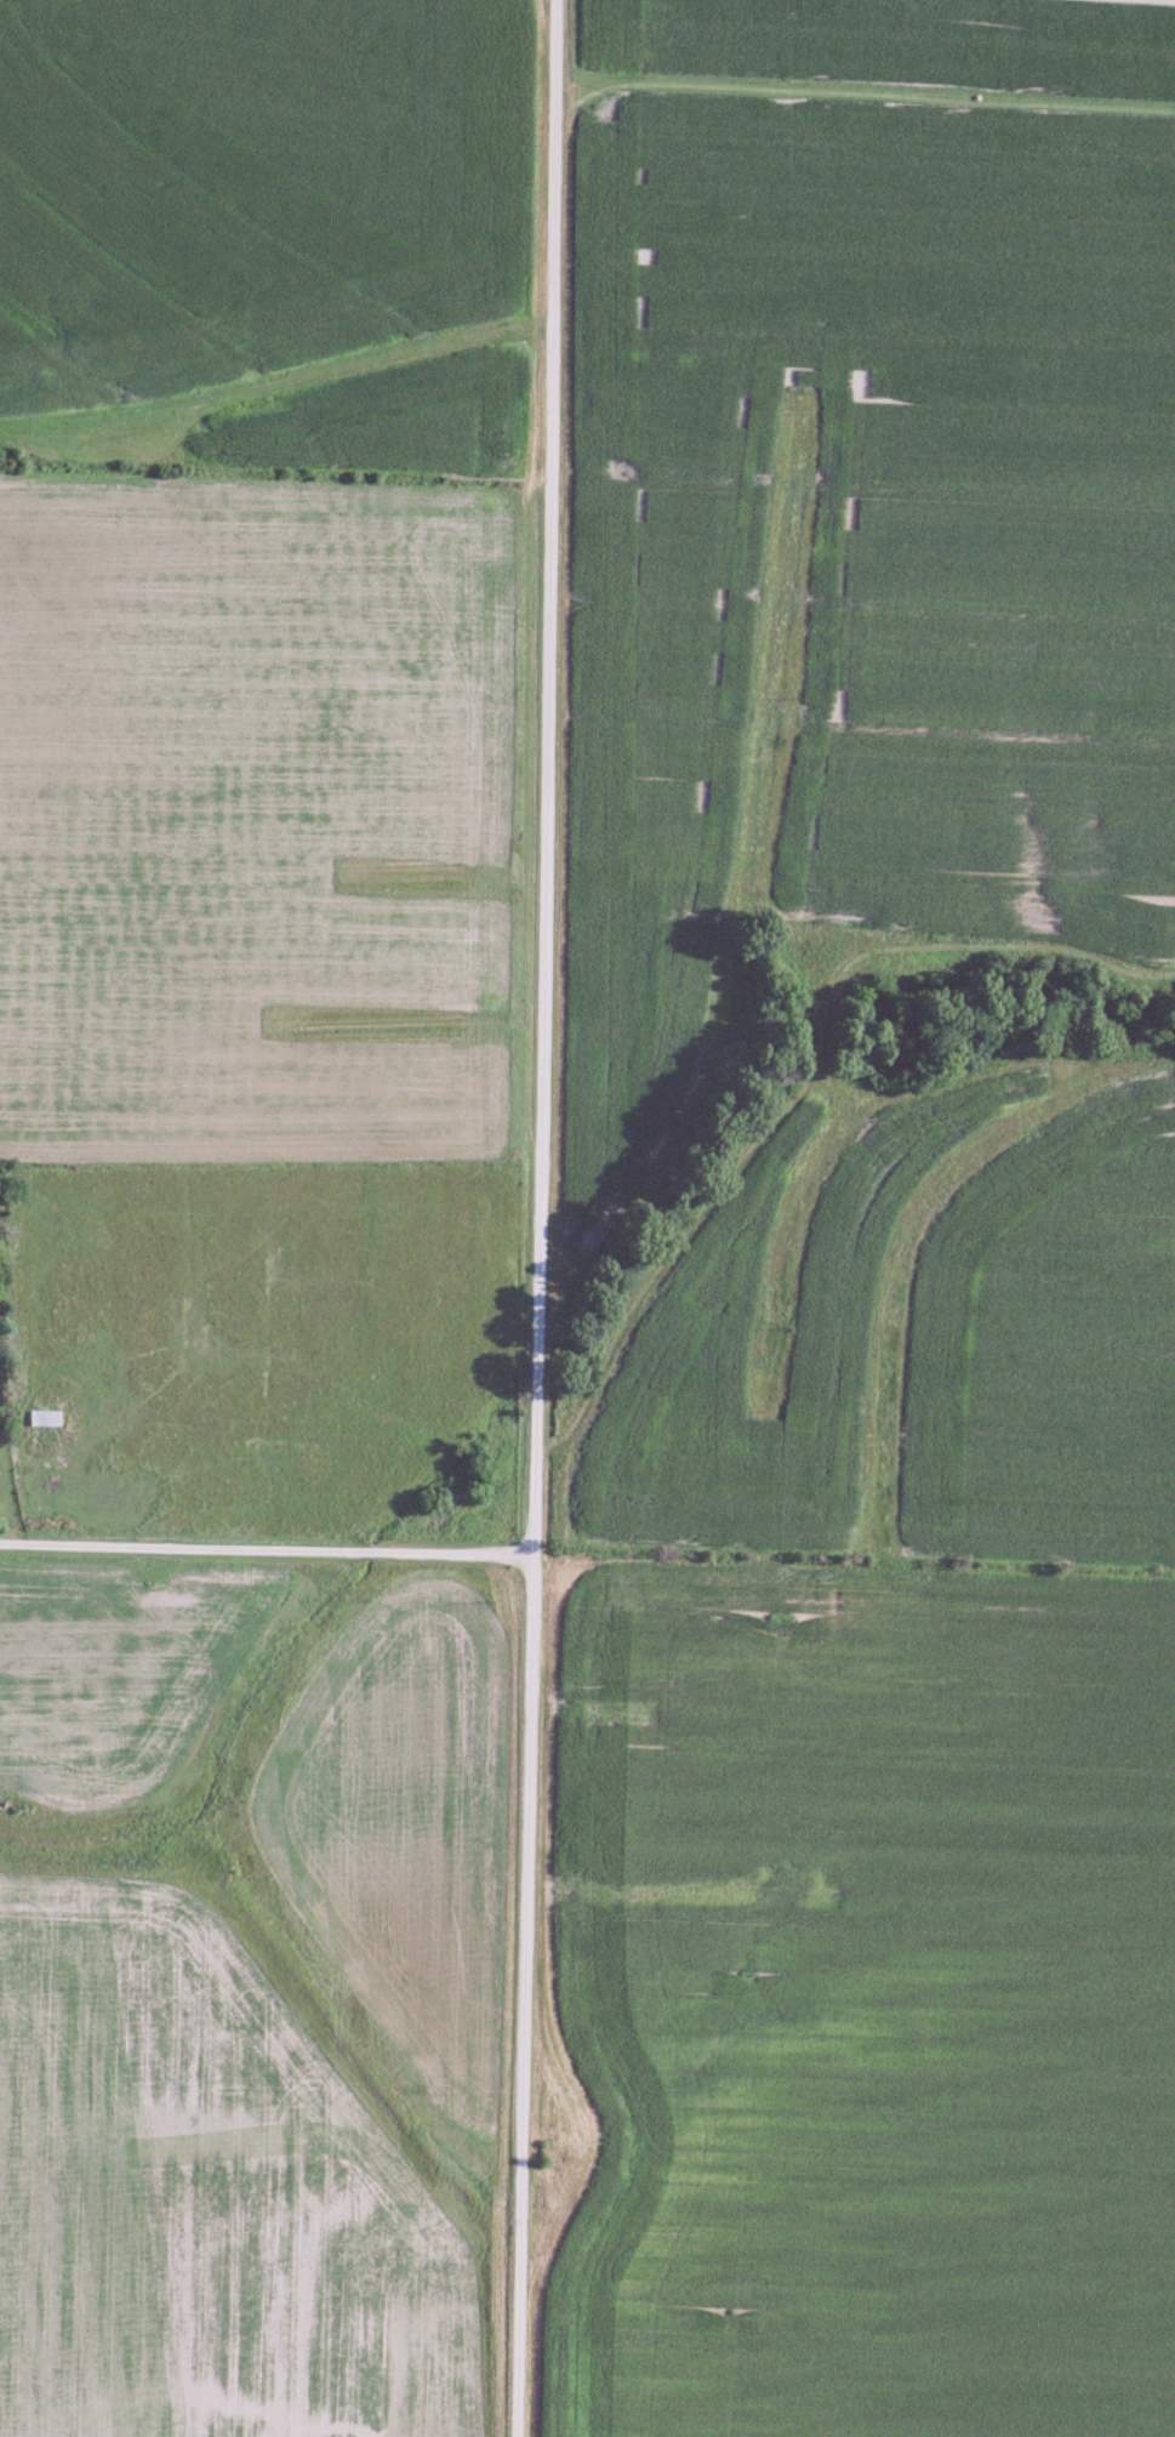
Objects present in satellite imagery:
road: (540, 1218)
building: (44, 1417)
road: (267, 1549)

